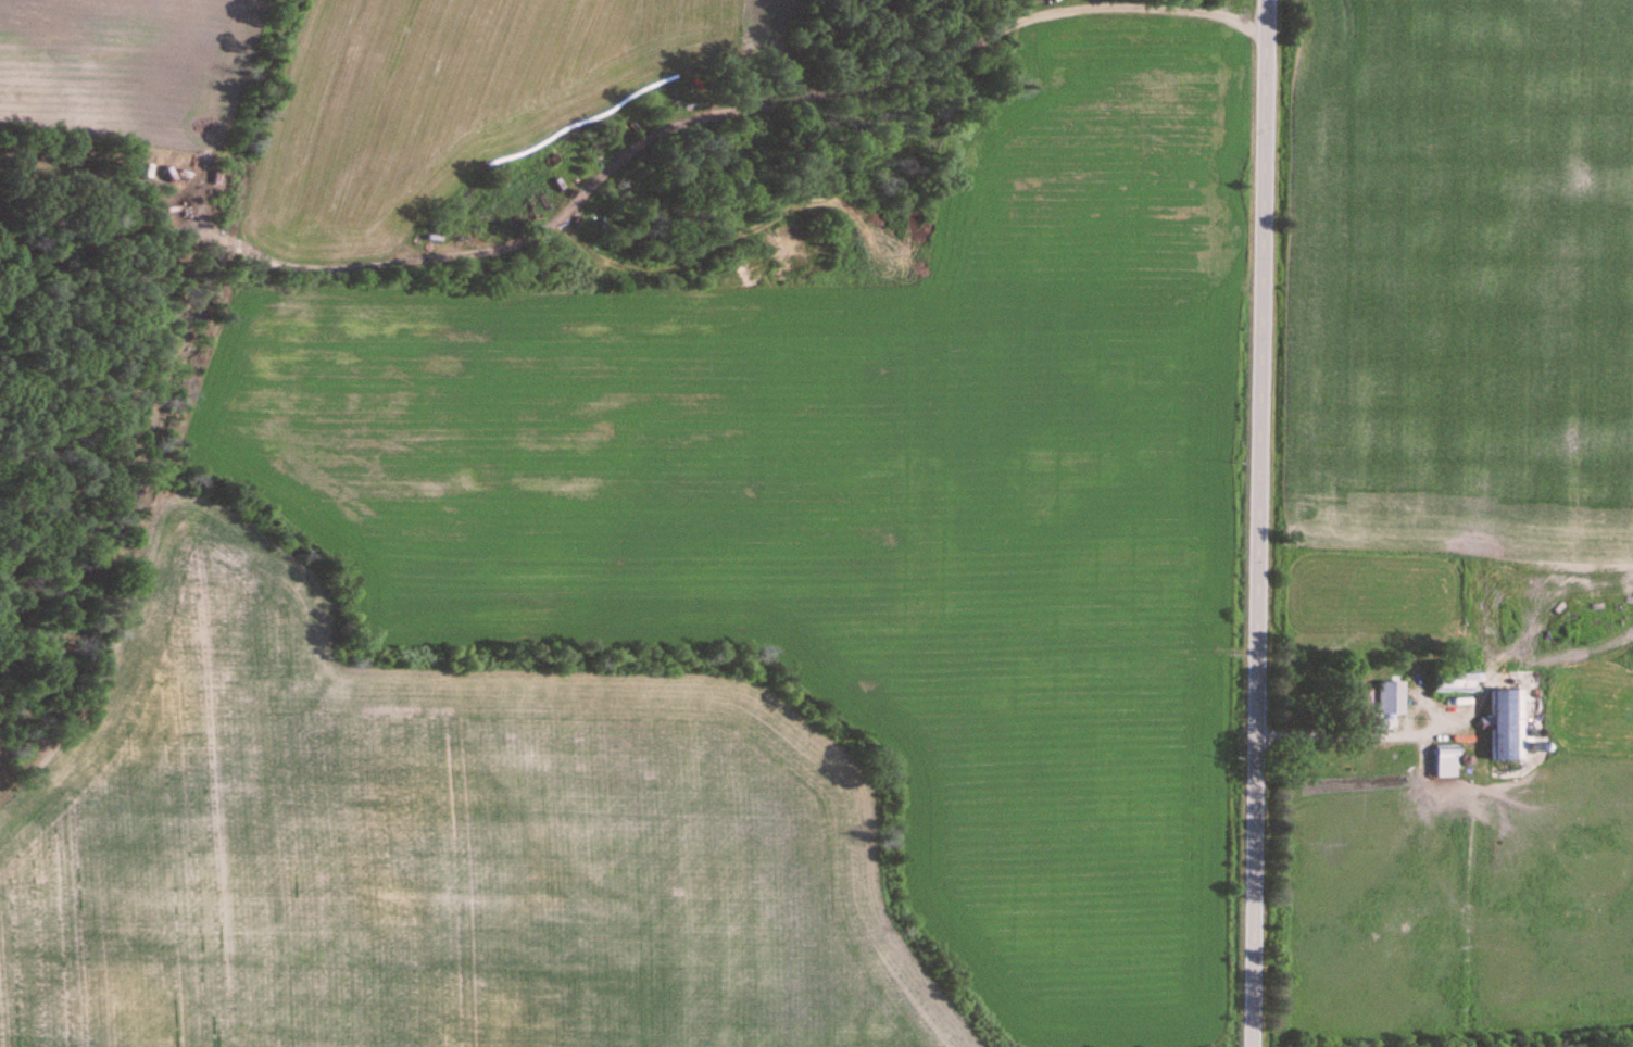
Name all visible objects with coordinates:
road: (1263, 523)
building: (1459, 680)
building: (1393, 697)
building: (1507, 726)
building: (1447, 761)

